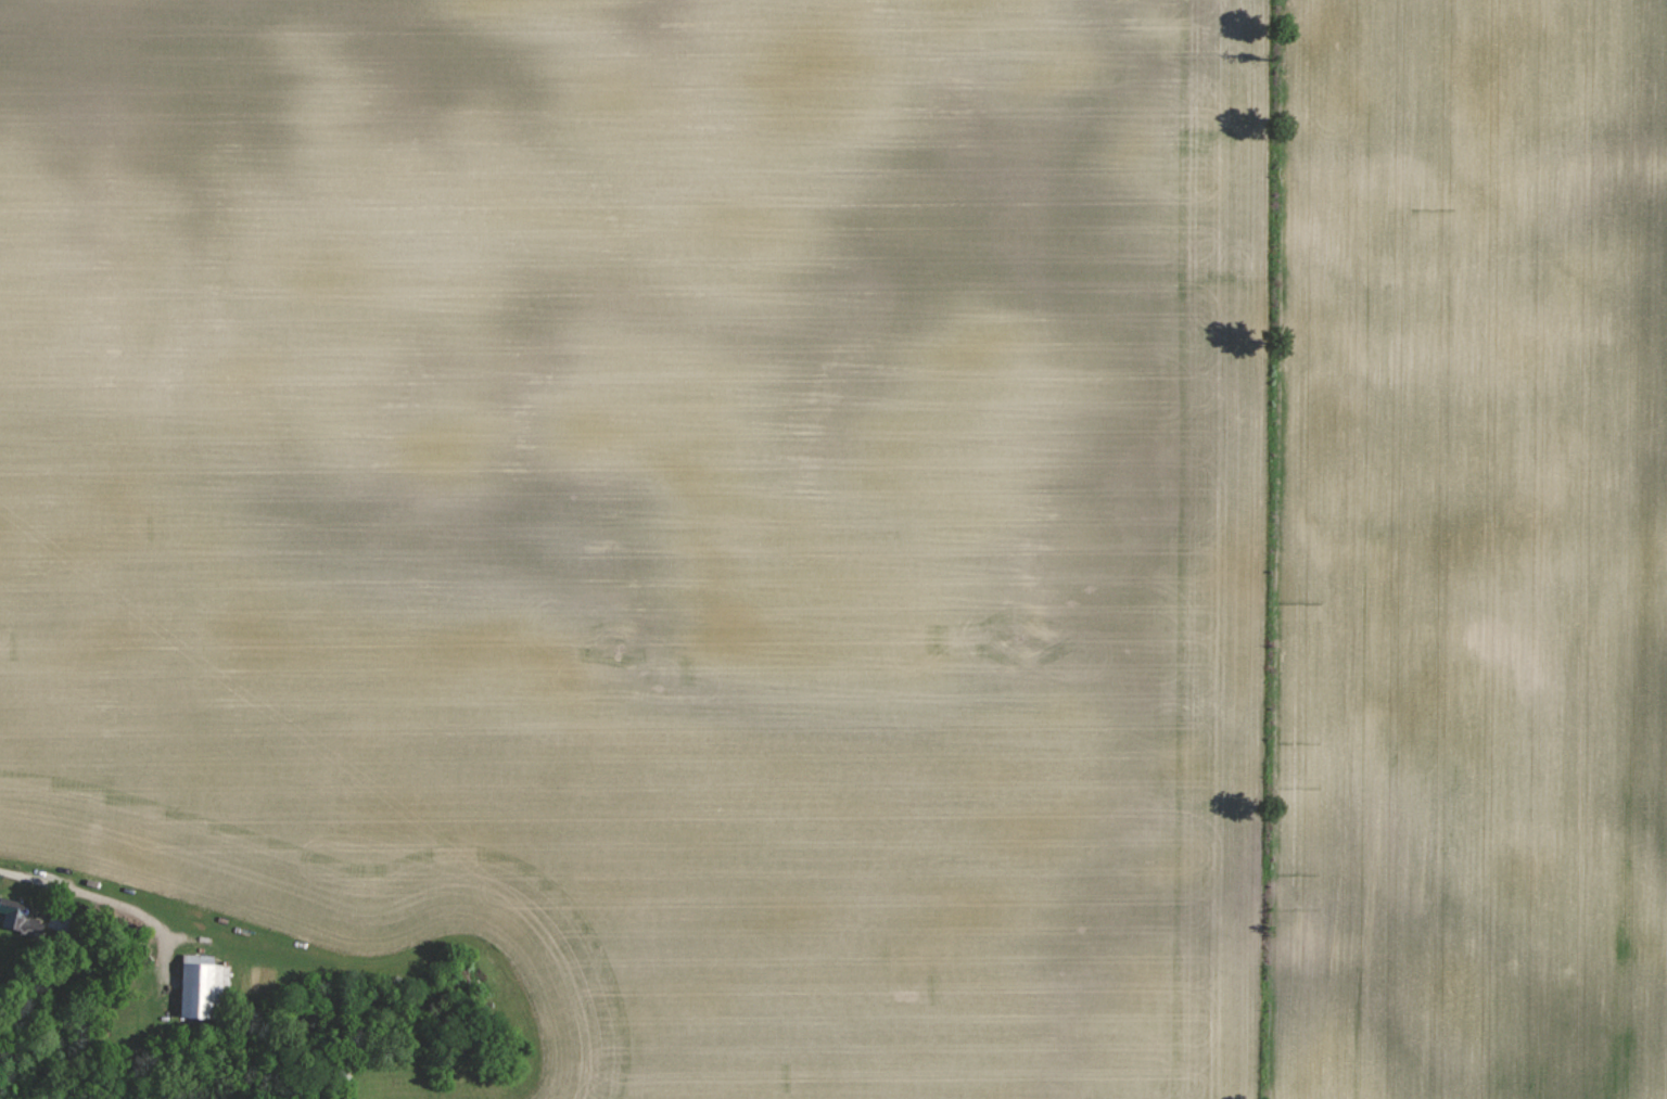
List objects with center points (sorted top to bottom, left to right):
road: (80, 906)
building: (20, 917)
building: (204, 985)

